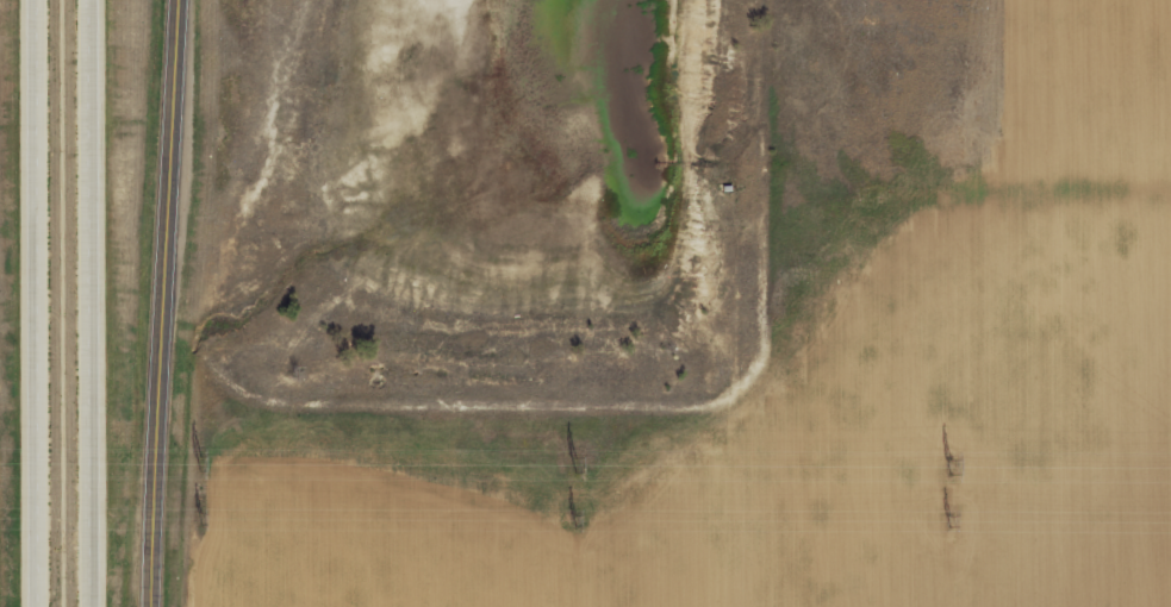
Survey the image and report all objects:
road: (110, 302)
road: (49, 303)
road: (187, 303)
power tower: (203, 459)
power tower: (575, 462)
power tower: (954, 462)
power tower: (203, 508)
power tower: (577, 517)
power tower: (952, 517)

